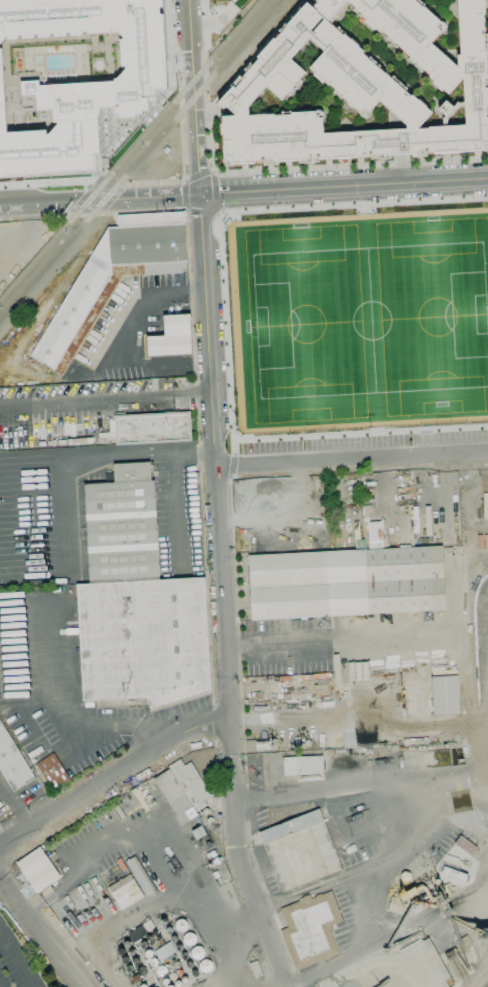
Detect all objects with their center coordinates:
road: (205, 28)
road: (178, 37)
traffic signals: (191, 51)
road: (487, 60)
railway: (26, 70)
road: (205, 76)
road: (171, 81)
building: (92, 87)
building: (362, 87)
road: (181, 98)
road: (194, 98)
railway: (175, 100)
railway: (190, 100)
road: (206, 102)
road: (129, 128)
building: (165, 150)
road: (400, 169)
road: (98, 170)
road: (246, 173)
road: (198, 174)
road: (184, 177)
road: (46, 181)
road: (111, 182)
road: (344, 186)
road: (213, 191)
road: (184, 194)
traffic signals: (200, 196)
road: (99, 201)
road: (201, 212)
railway: (75, 215)
road: (81, 215)
road: (218, 216)
road: (31, 217)
railway: (51, 259)
railway: (31, 264)
building: (112, 278)
park: (433, 314)
park: (370, 319)
road: (226, 321)
park: (305, 323)
park: (355, 323)
building: (172, 338)
road: (191, 395)
road: (85, 400)
road: (197, 413)
building: (149, 428)
road: (233, 448)
road: (204, 450)
road: (123, 454)
road: (350, 458)
road: (231, 465)
road: (416, 468)
road: (214, 475)
road: (179, 509)
building: (438, 519)
building: (416, 520)
building: (465, 528)
building: (347, 583)
building: (483, 587)
building: (137, 602)
road: (394, 635)
road: (232, 643)
road: (241, 687)
building: (446, 695)
road: (368, 715)
road: (214, 721)
road: (77, 726)
building: (263, 745)
building: (371, 745)
building: (421, 747)
building: (431, 747)
building: (412, 748)
building: (401, 749)
building: (334, 752)
building: (12, 762)
building: (303, 766)
building: (53, 772)
road: (111, 776)
building: (190, 782)
road: (217, 793)
building: (138, 796)
building: (175, 796)
road: (425, 807)
road: (0, 830)
building: (199, 833)
building: (300, 850)
building: (214, 862)
road: (174, 863)
building: (121, 865)
building: (37, 869)
road: (245, 873)
building: (454, 875)
building: (217, 876)
building: (141, 877)
building: (125, 892)
building: (409, 894)
road: (271, 905)
building: (396, 906)
building: (445, 906)
road: (119, 921)
building: (162, 921)
silo: (162, 921)
building: (179, 925)
silo: (179, 925)
building: (310, 929)
building: (168, 930)
silo: (168, 930)
road: (40, 931)
building: (152, 933)
silo: (152, 933)
building: (146, 936)
silo: (146, 936)
building: (156, 938)
silo: (156, 938)
building: (187, 938)
silo: (187, 938)
building: (173, 939)
silo: (173, 939)
building: (150, 941)
silo: (150, 941)
road: (285, 941)
building: (464, 943)
building: (123, 944)
silo: (123, 944)
building: (141, 944)
silo: (141, 944)
building: (178, 947)
silo: (178, 947)
road: (362, 948)
building: (128, 951)
silo: (128, 951)
building: (163, 951)
building: (117, 952)
silo: (117, 952)
building: (195, 952)
silo: (195, 952)
building: (147, 953)
silo: (147, 953)
building: (183, 955)
silo: (183, 955)
road: (18, 957)
building: (171, 958)
silo: (171, 958)
building: (123, 960)
silo: (123, 960)
building: (133, 961)
silo: (133, 961)
building: (151, 961)
silo: (151, 961)
building: (165, 962)
silo: (165, 962)
building: (176, 964)
silo: (176, 964)
building: (188, 964)
silo: (188, 964)
building: (203, 966)
silo: (203, 966)
building: (127, 968)
silo: (127, 968)
building: (159, 970)
silo: (159, 970)
building: (256, 970)
building: (140, 971)
silo: (140, 971)
building: (176, 972)
silo: (176, 972)
building: (193, 973)
silo: (193, 973)
building: (171, 977)
silo: (171, 977)
road: (482, 978)
building: (132, 979)
silo: (132, 979)
building: (182, 979)
silo: (182, 979)
building: (175, 984)
silo: (175, 984)
building: (140, 986)
silo: (140, 986)
building: (168, 986)
silo: (168, 986)

